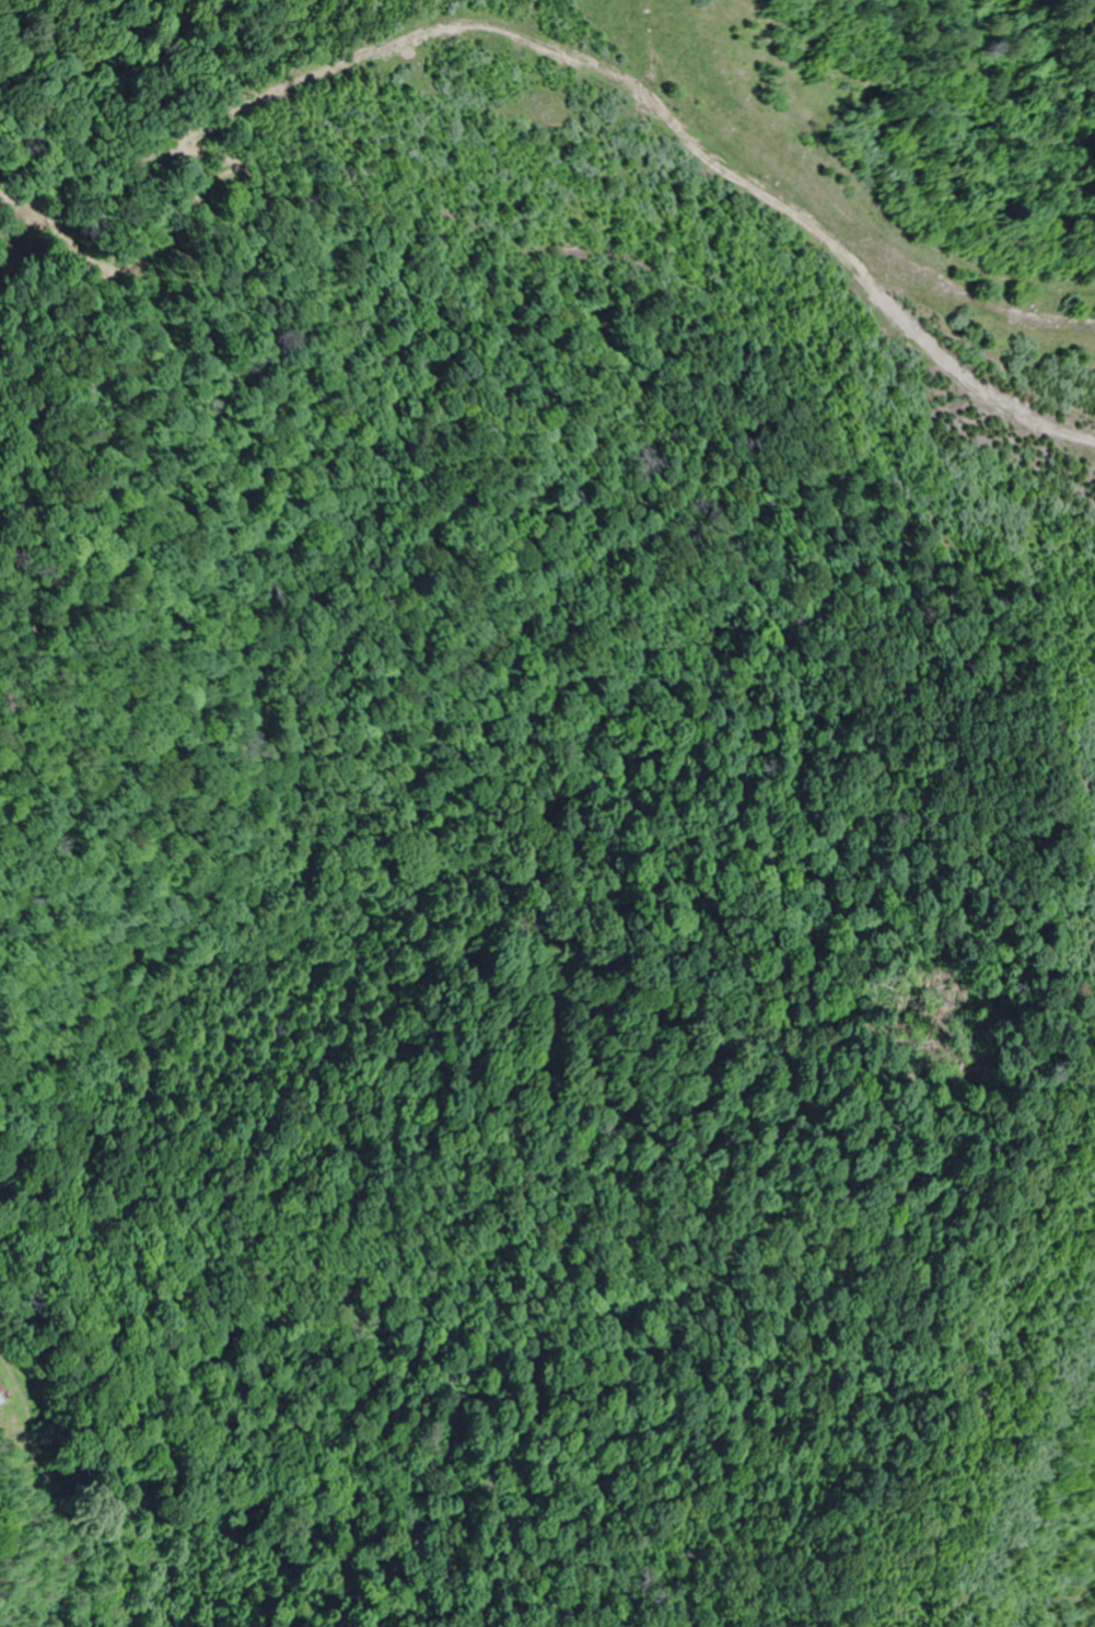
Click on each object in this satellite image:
building: (0, 1392)

